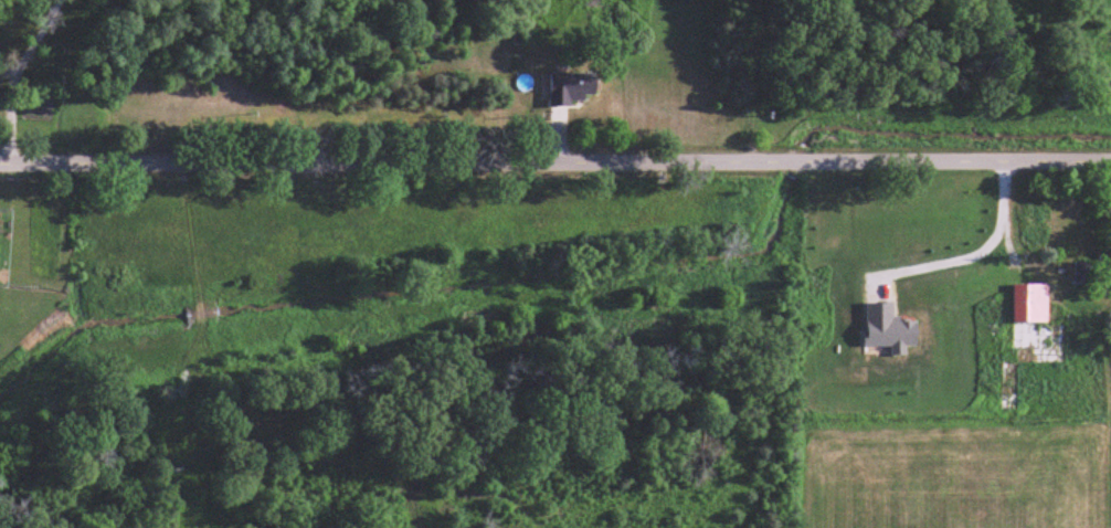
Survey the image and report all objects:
building: (572, 89)
road: (554, 167)
building: (1094, 274)
building: (1031, 320)
building: (1009, 388)

